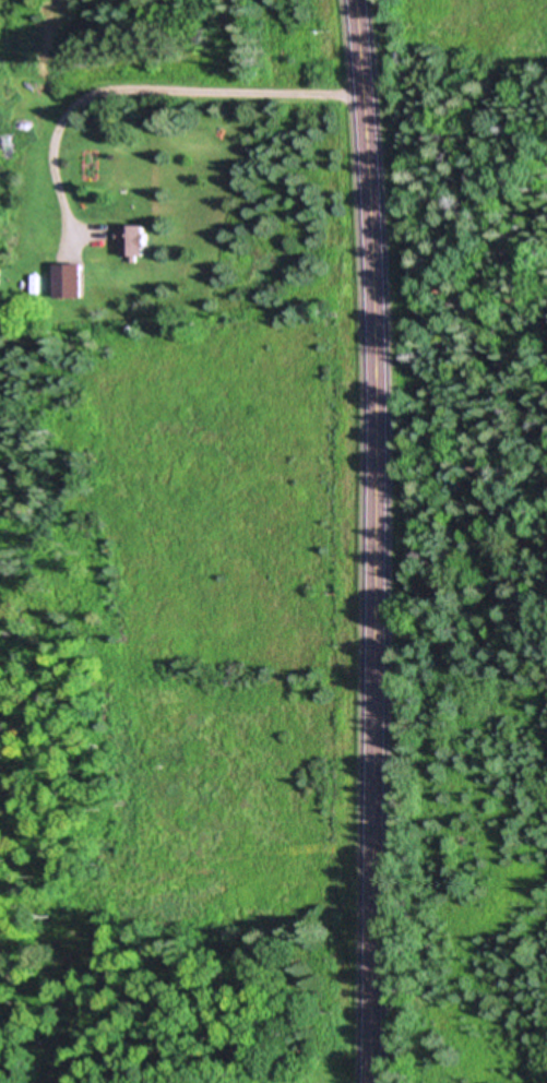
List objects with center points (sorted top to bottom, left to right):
road: (143, 83)
building: (4, 147)
building: (135, 240)
road: (384, 540)
road: (465, 611)

